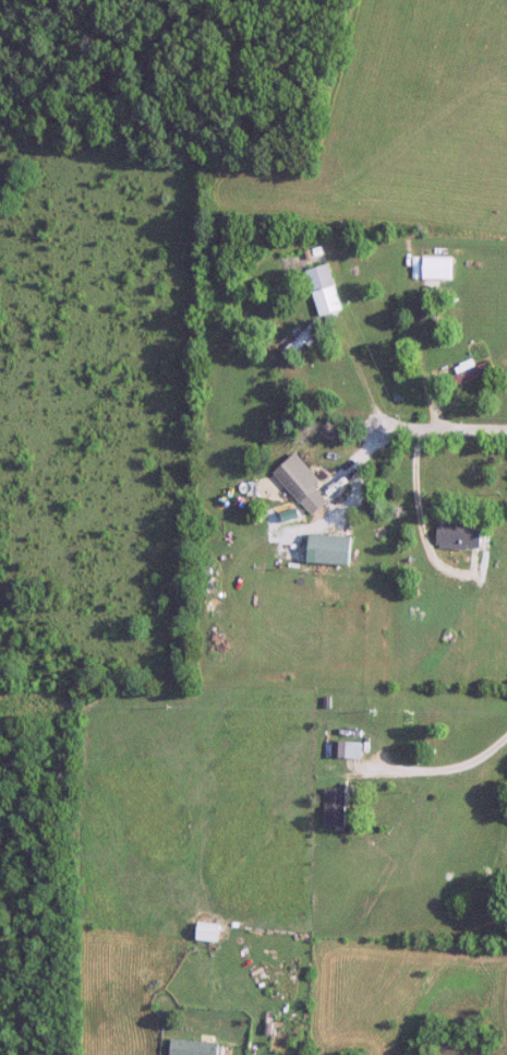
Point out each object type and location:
building: (436, 269)
building: (324, 291)
building: (300, 340)
road: (382, 420)
building: (292, 474)
building: (313, 502)
building: (459, 537)
road: (428, 538)
building: (328, 550)
building: (346, 750)
road: (445, 773)
building: (334, 808)
building: (206, 933)
building: (198, 1048)

